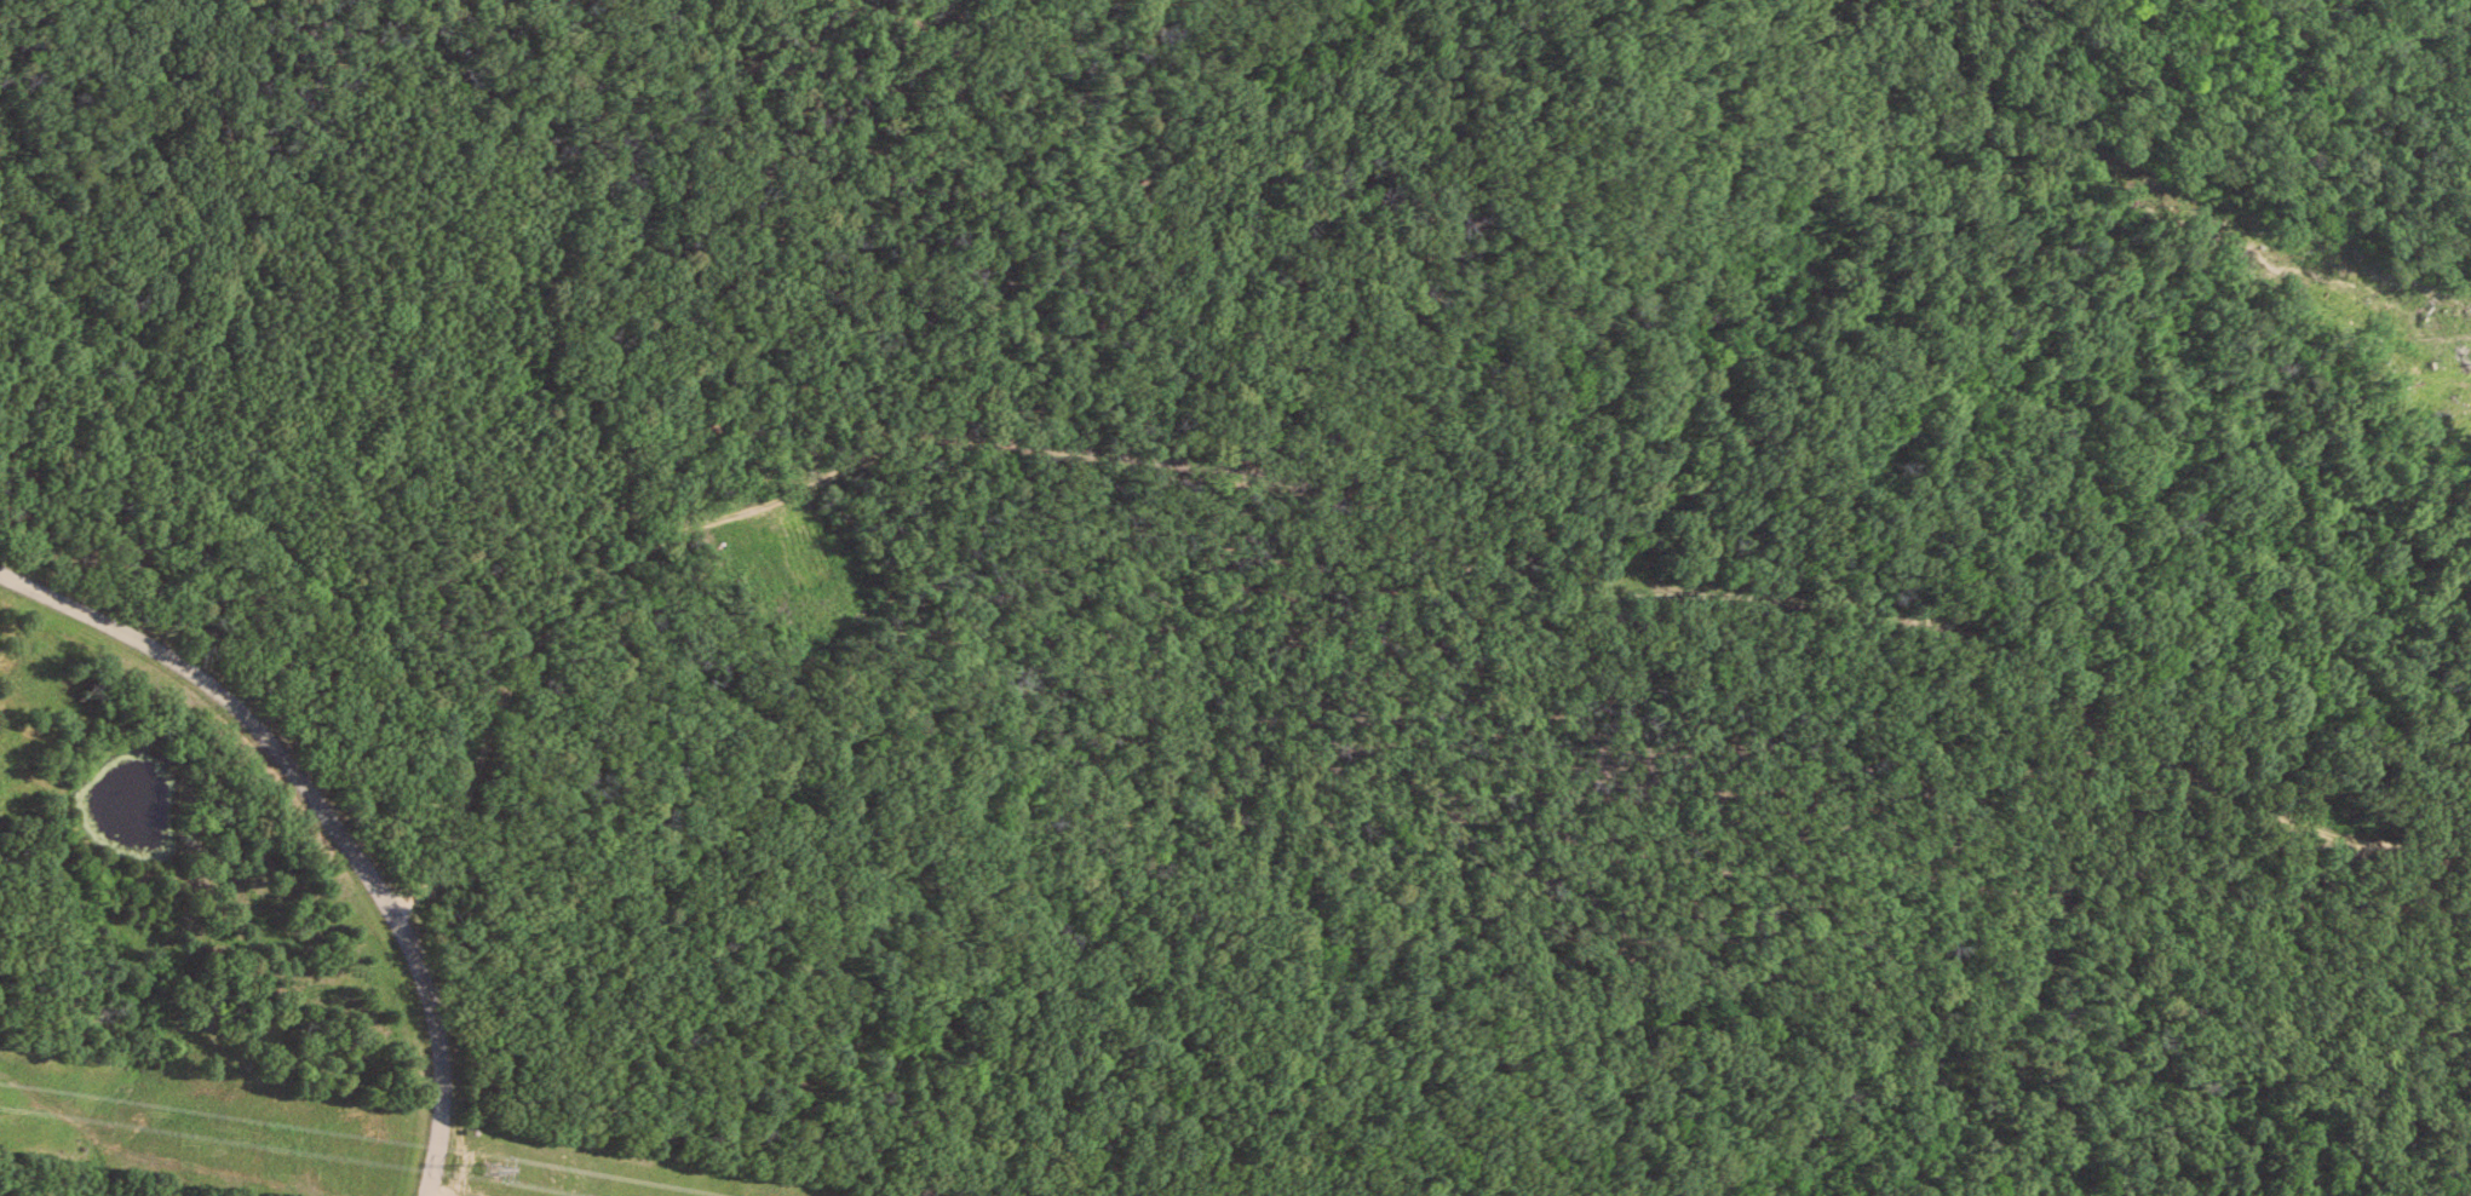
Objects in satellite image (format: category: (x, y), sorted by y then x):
road: (6, 593)
road: (8, 743)
road: (328, 815)
road: (312, 951)

